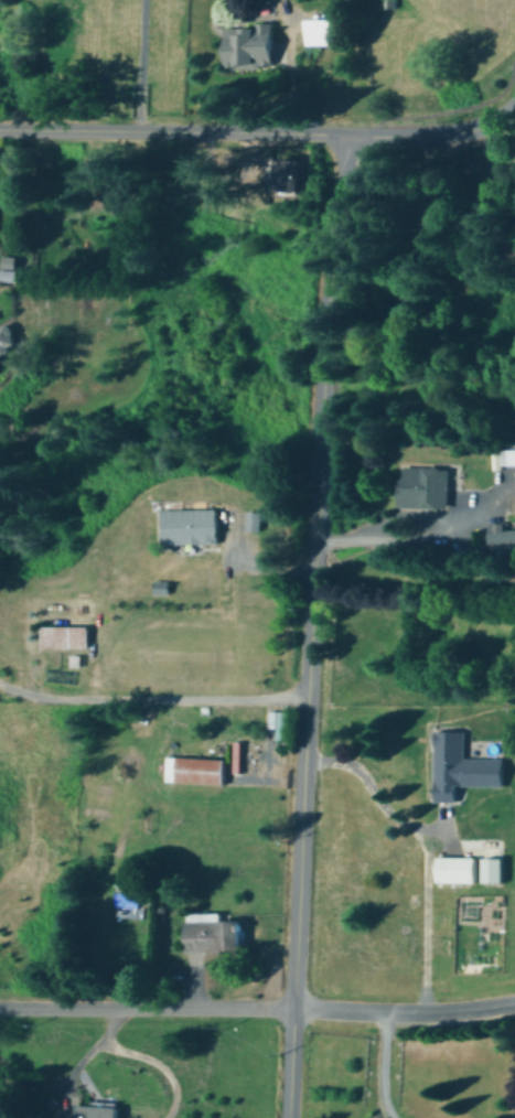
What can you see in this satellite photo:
building: (328, 29)
building: (254, 43)
road: (289, 69)
road: (171, 133)
road: (430, 133)
building: (14, 266)
building: (9, 336)
building: (427, 485)
building: (257, 519)
building: (194, 525)
road: (399, 535)
building: (502, 535)
road: (246, 567)
building: (164, 585)
road: (310, 626)
building: (68, 634)
road: (151, 699)
building: (280, 721)
building: (465, 765)
building: (197, 768)
road: (367, 791)
building: (496, 867)
building: (458, 868)
building: (216, 931)
road: (146, 1008)
road: (404, 1013)
road: (143, 1057)
road: (377, 1066)
building: (99, 1109)

